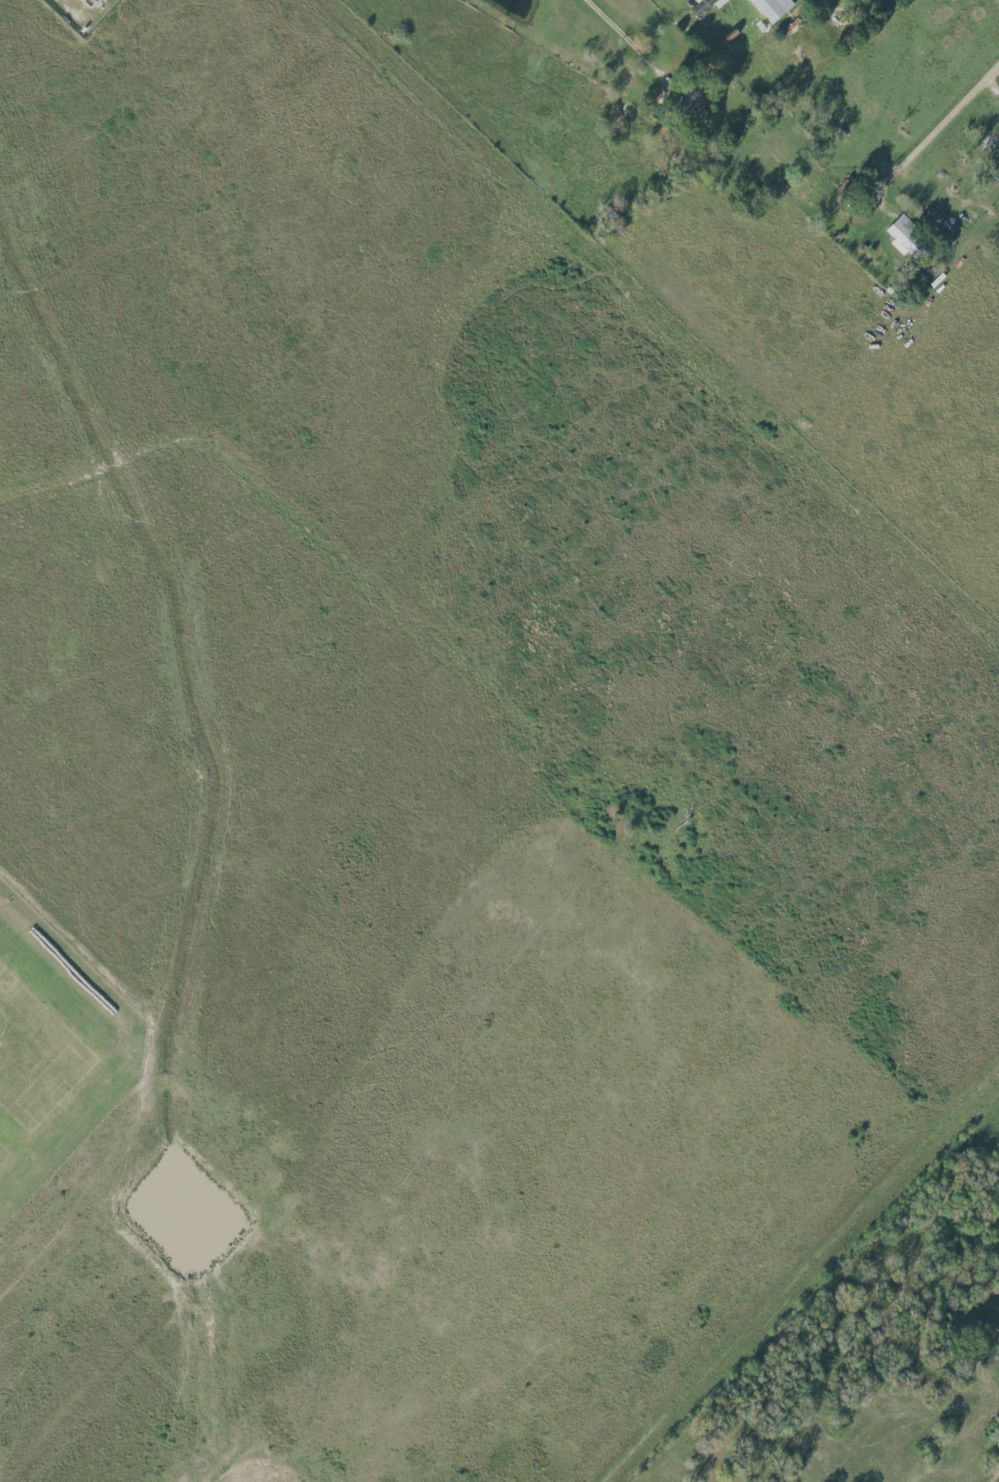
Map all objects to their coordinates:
building: (89, 2)
building: (705, 5)
building: (772, 8)
road: (620, 35)
road: (942, 120)
building: (906, 237)

